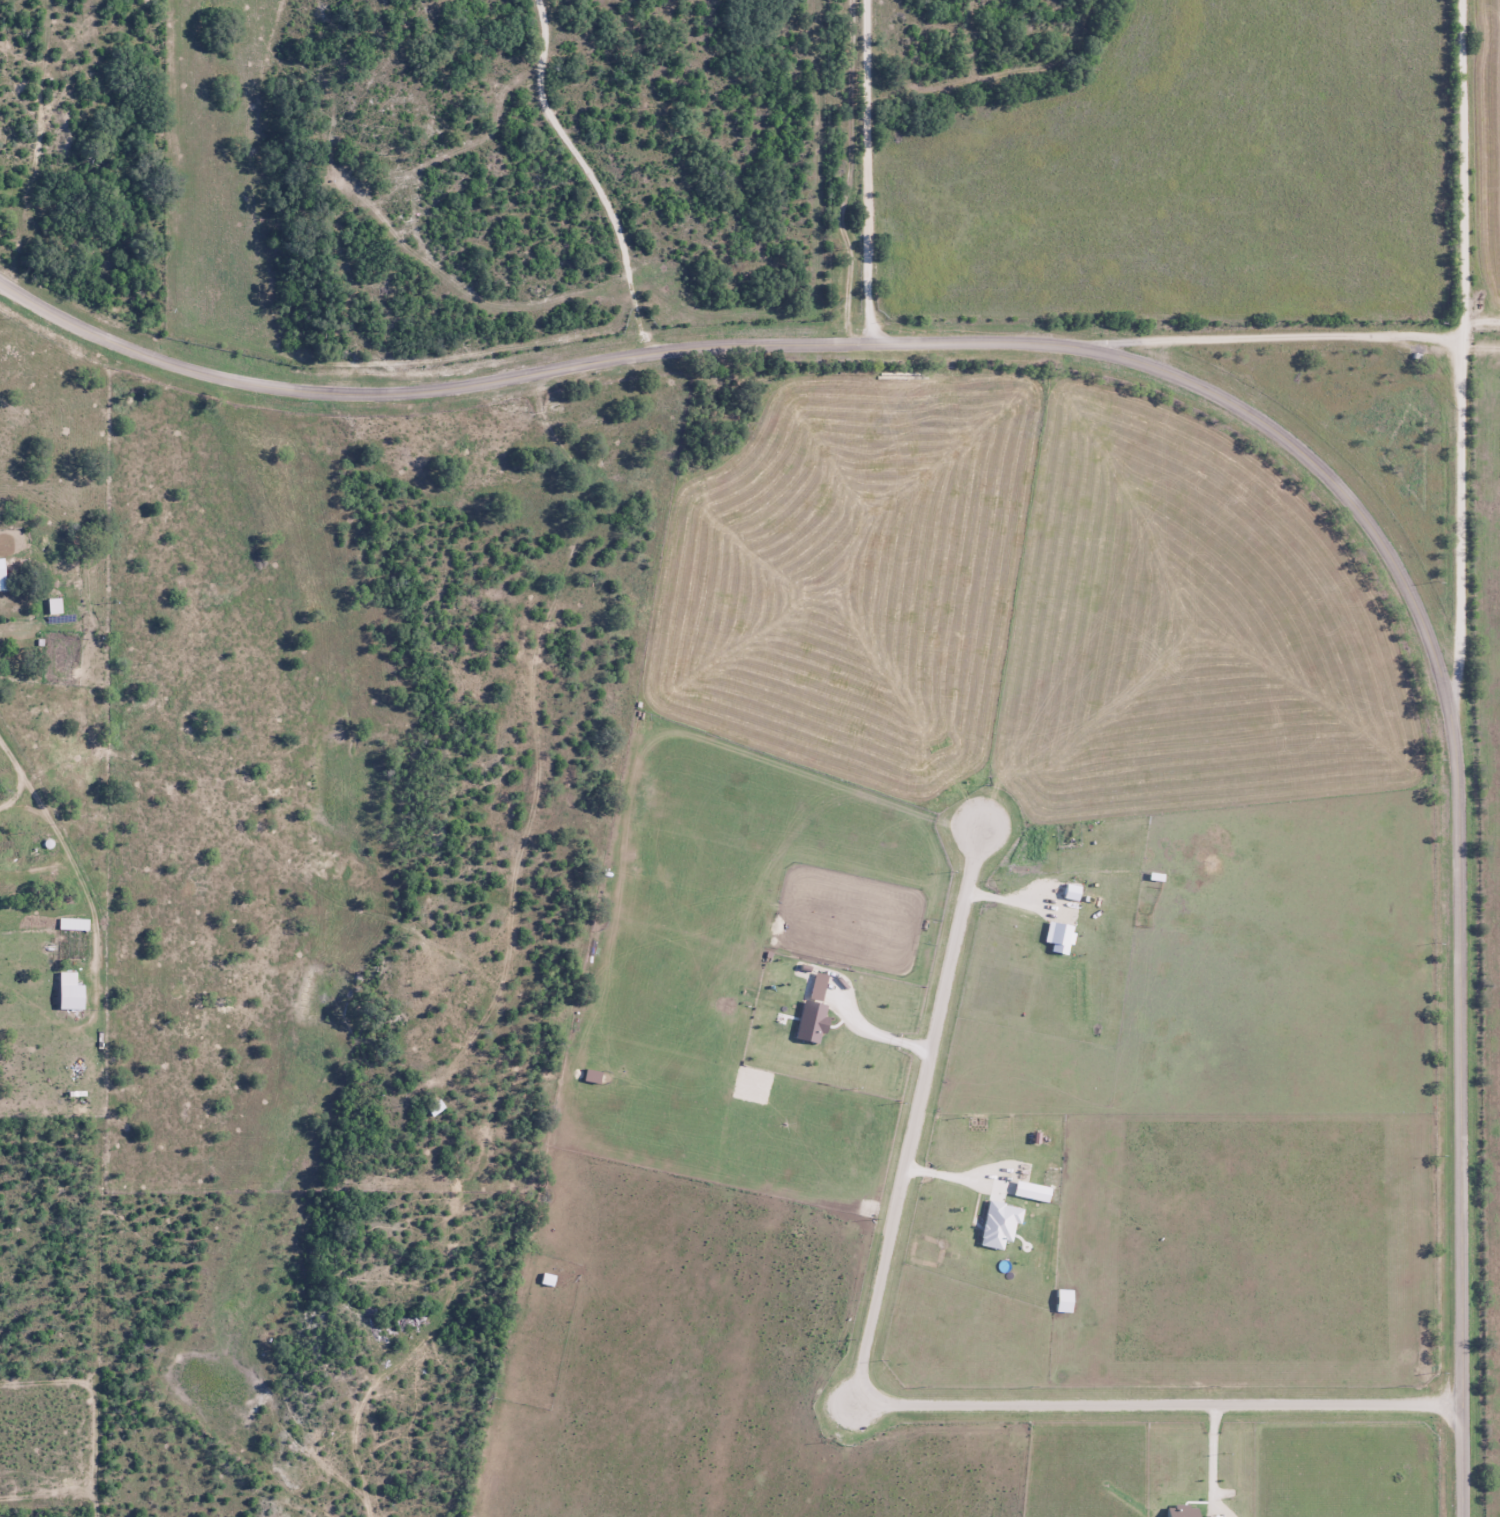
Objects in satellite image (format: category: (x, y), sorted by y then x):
road: (872, 171)
road: (1482, 321)
road: (1284, 341)
road: (1462, 355)
road: (1480, 384)
road: (1198, 386)
building: (7, 574)
building: (52, 606)
road: (62, 819)
building: (71, 923)
road: (872, 1402)

